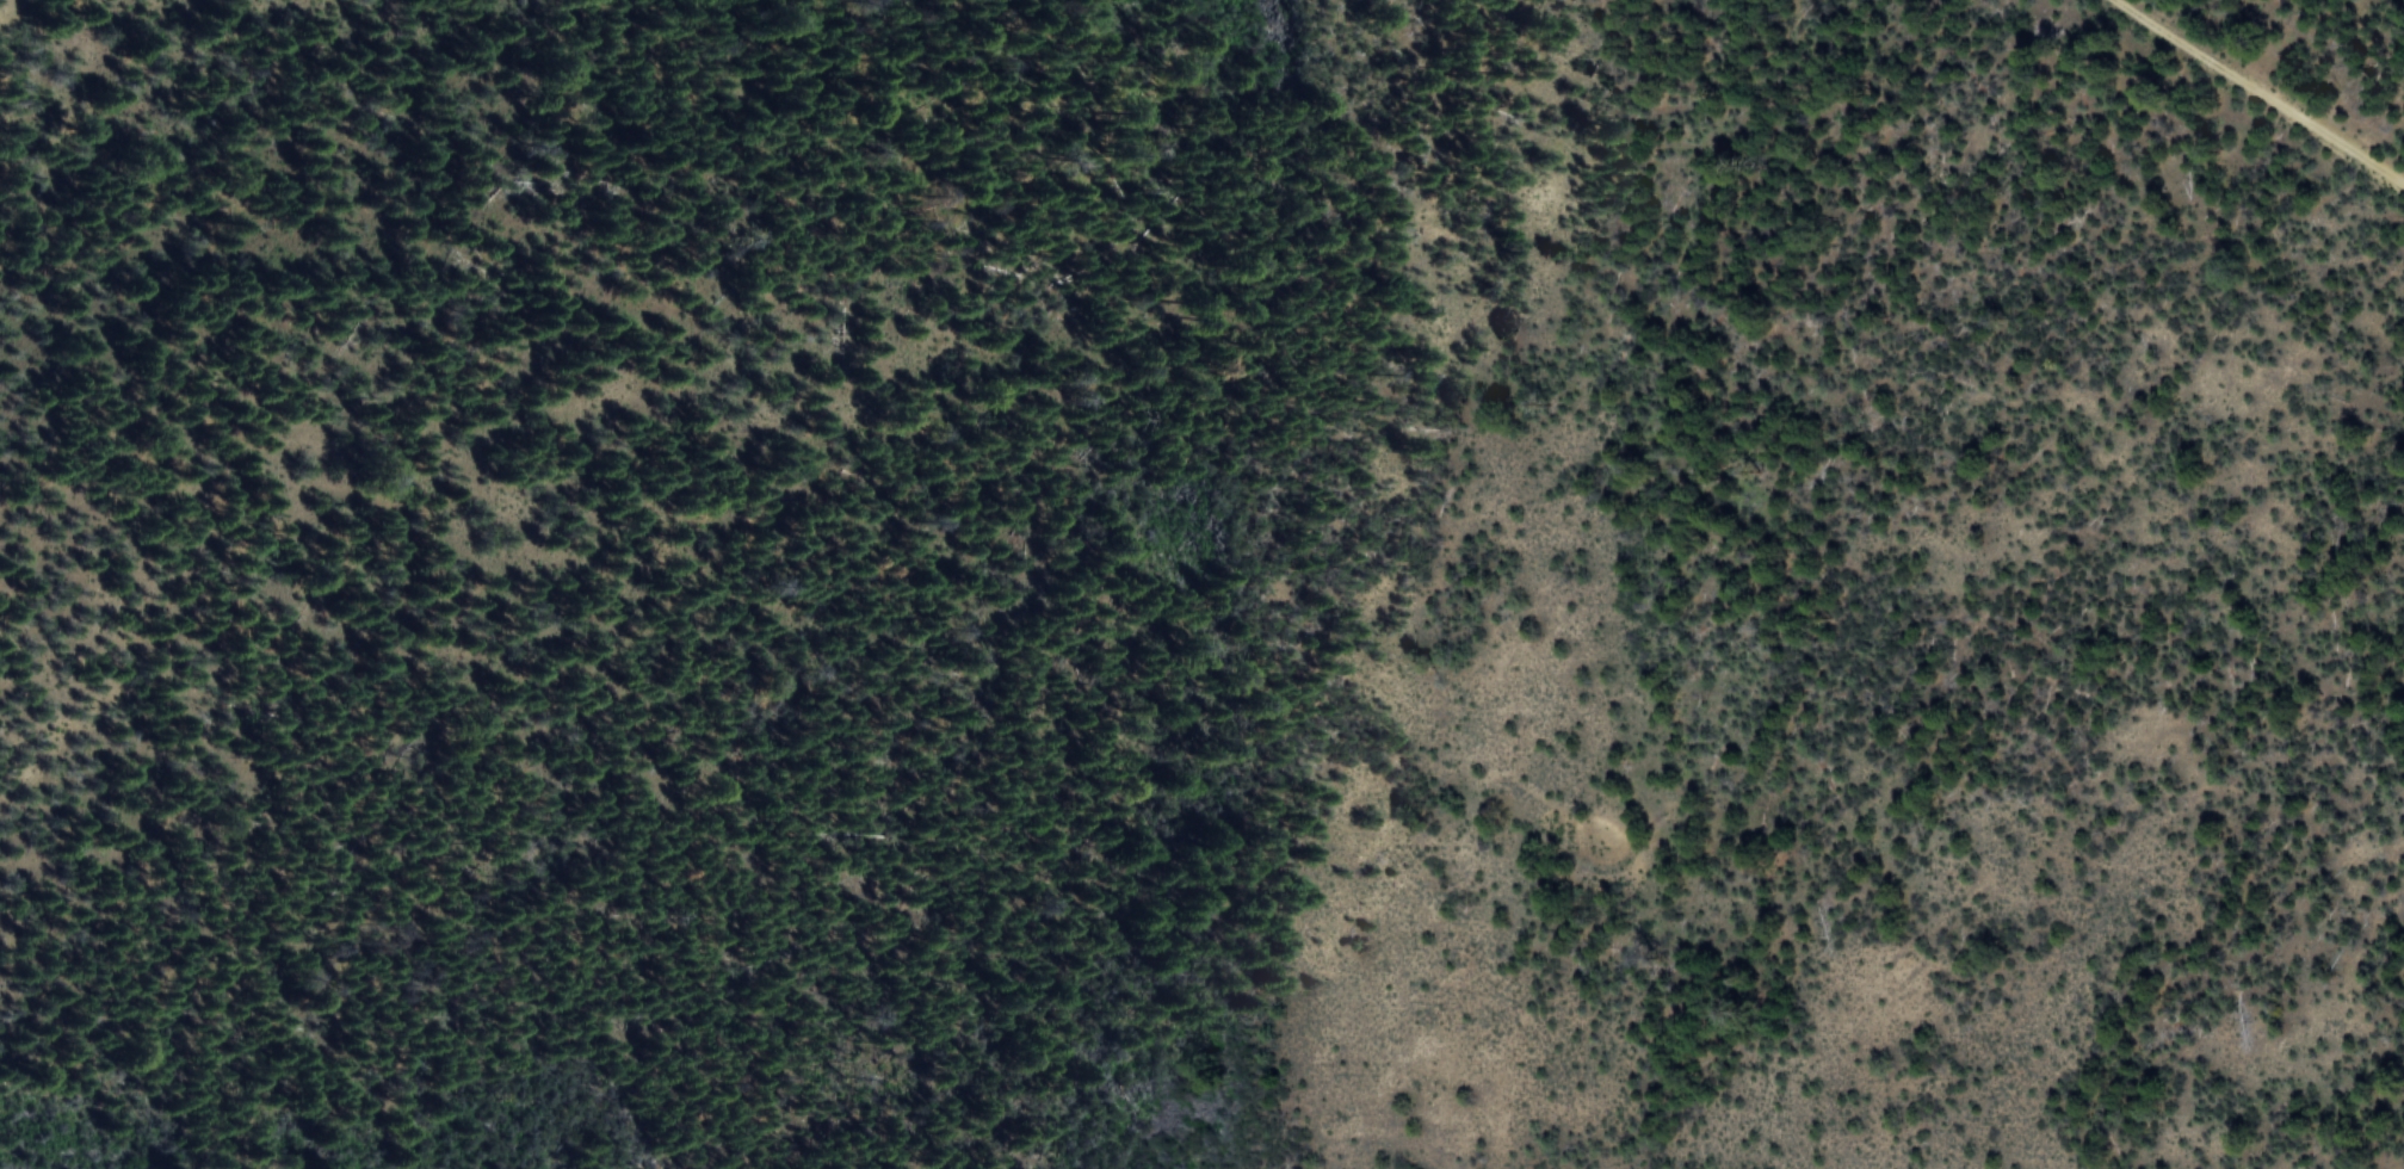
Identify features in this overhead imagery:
road: (2261, 93)

